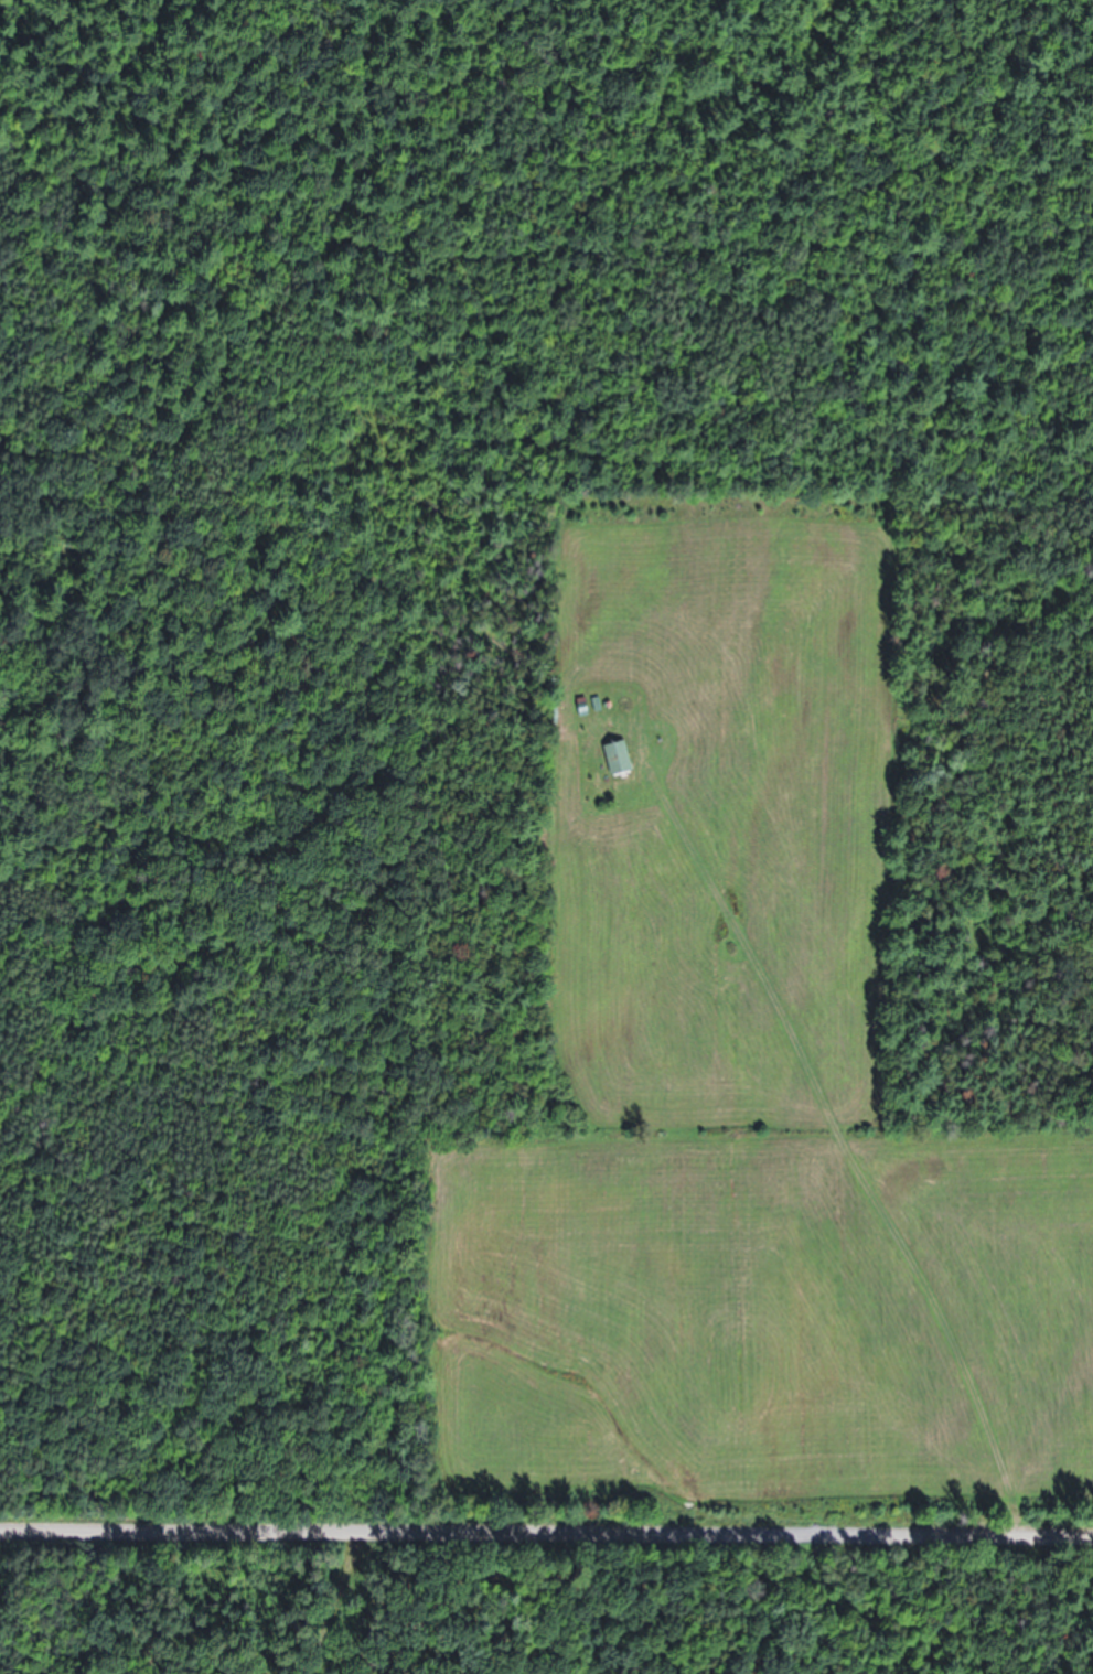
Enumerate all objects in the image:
building: (615, 753)
road: (546, 1537)

